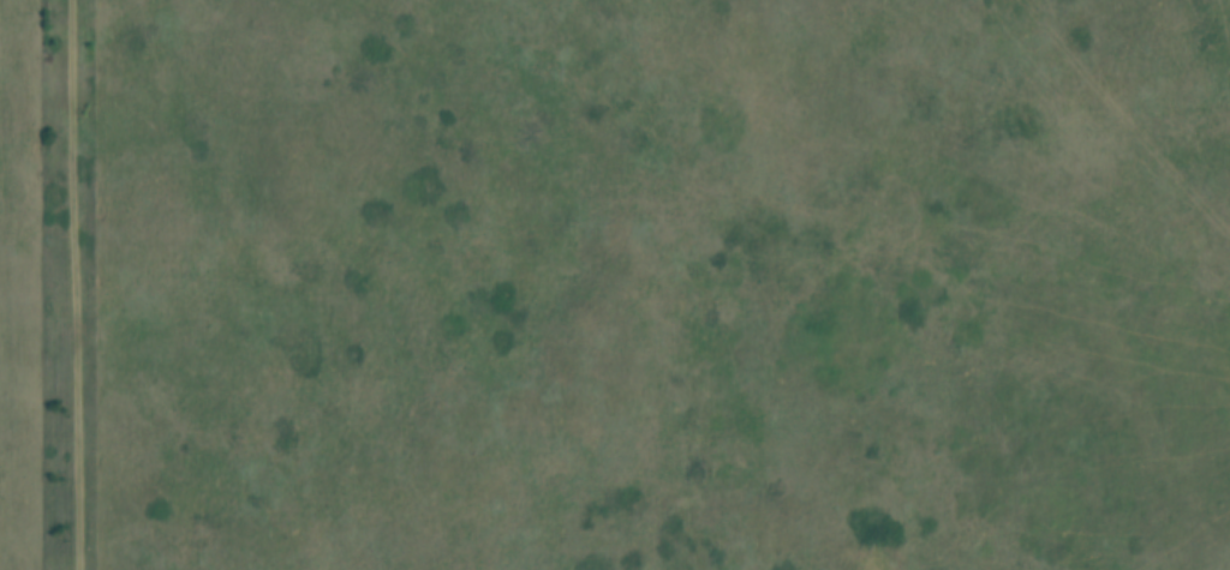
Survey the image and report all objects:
road: (74, 284)

